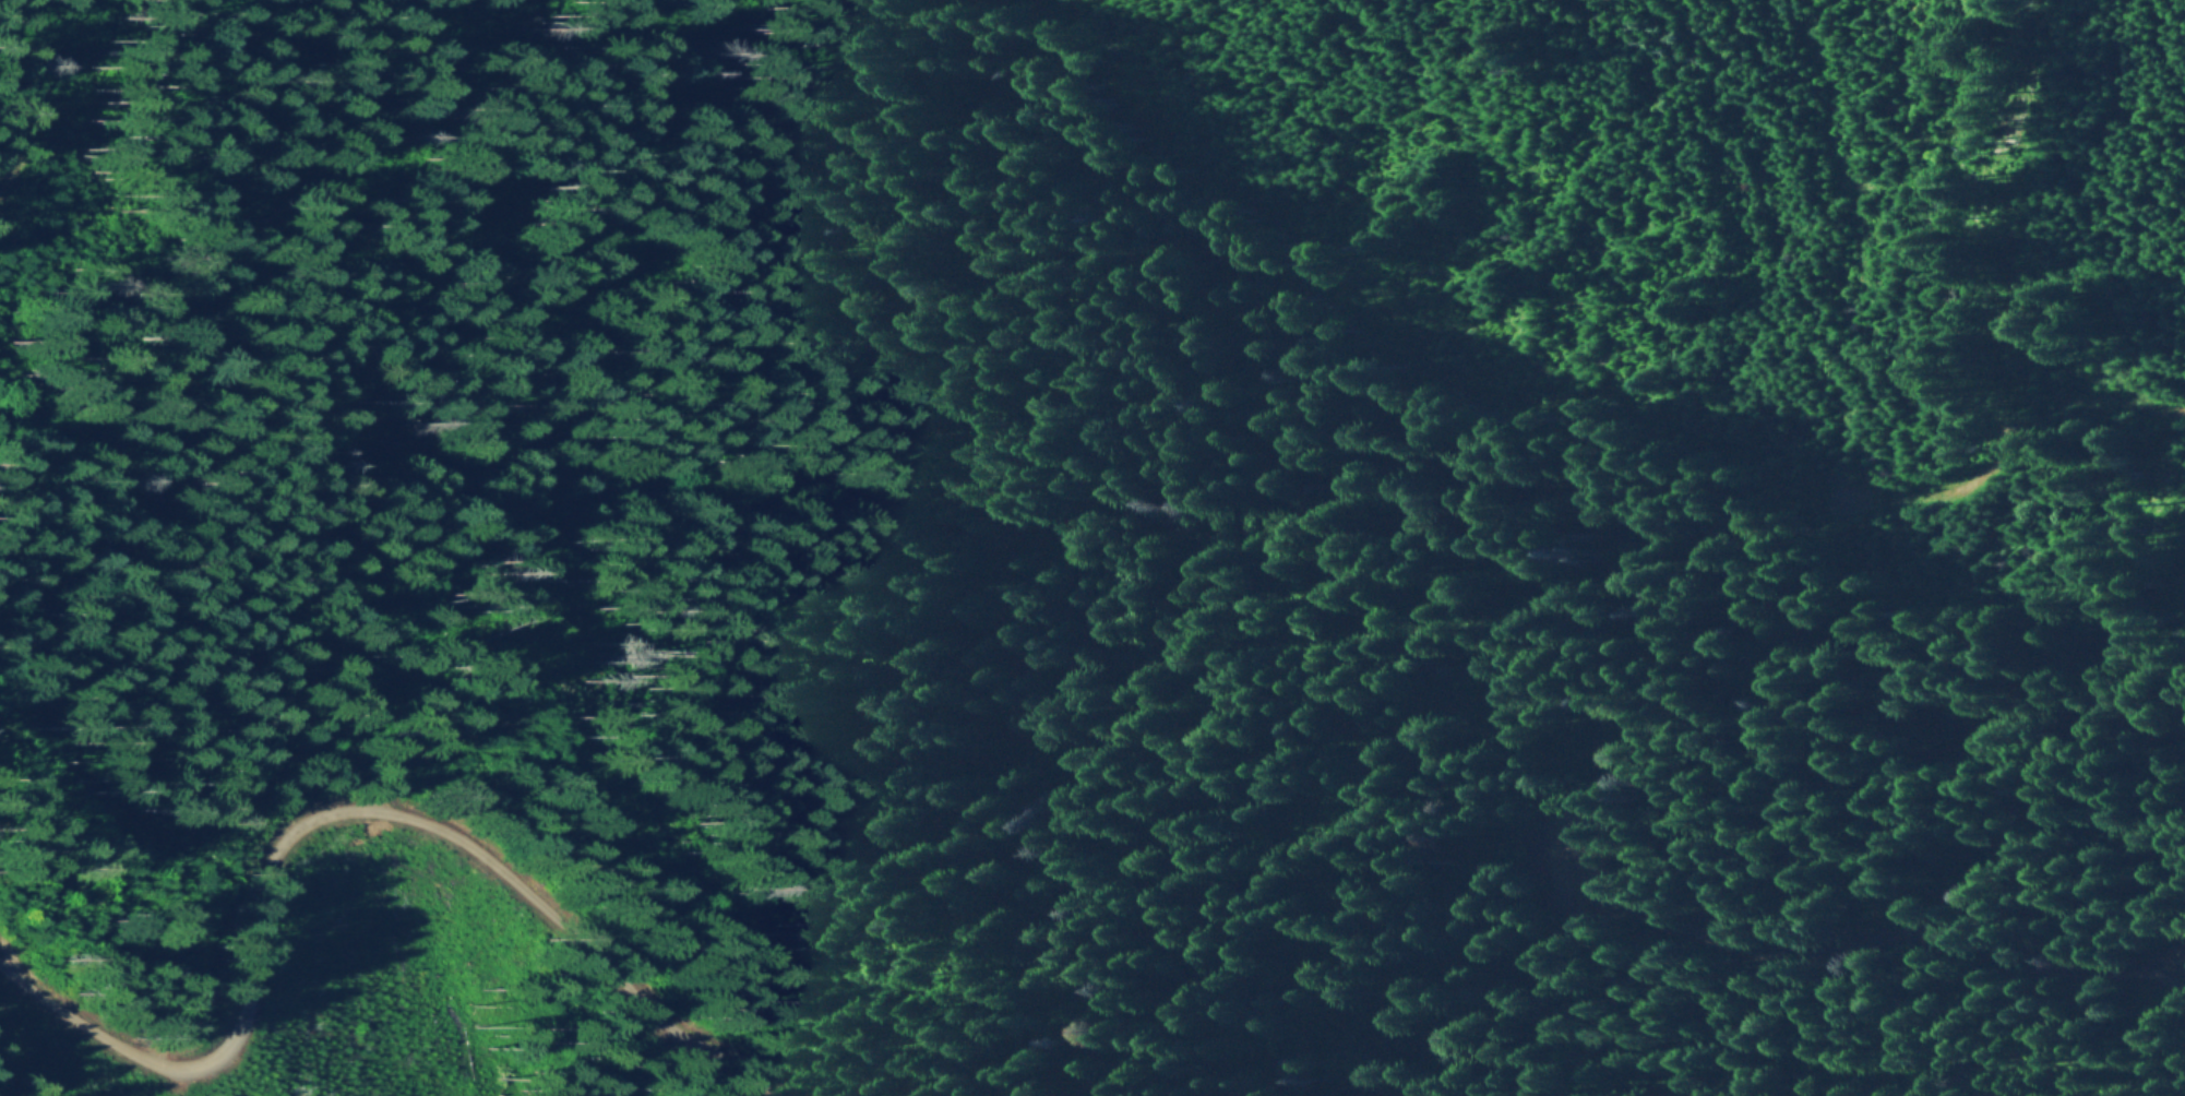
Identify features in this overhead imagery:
road: (39, 91)
road: (2016, 449)
road: (426, 739)
road: (339, 803)
road: (1873, 934)
road: (2, 965)

